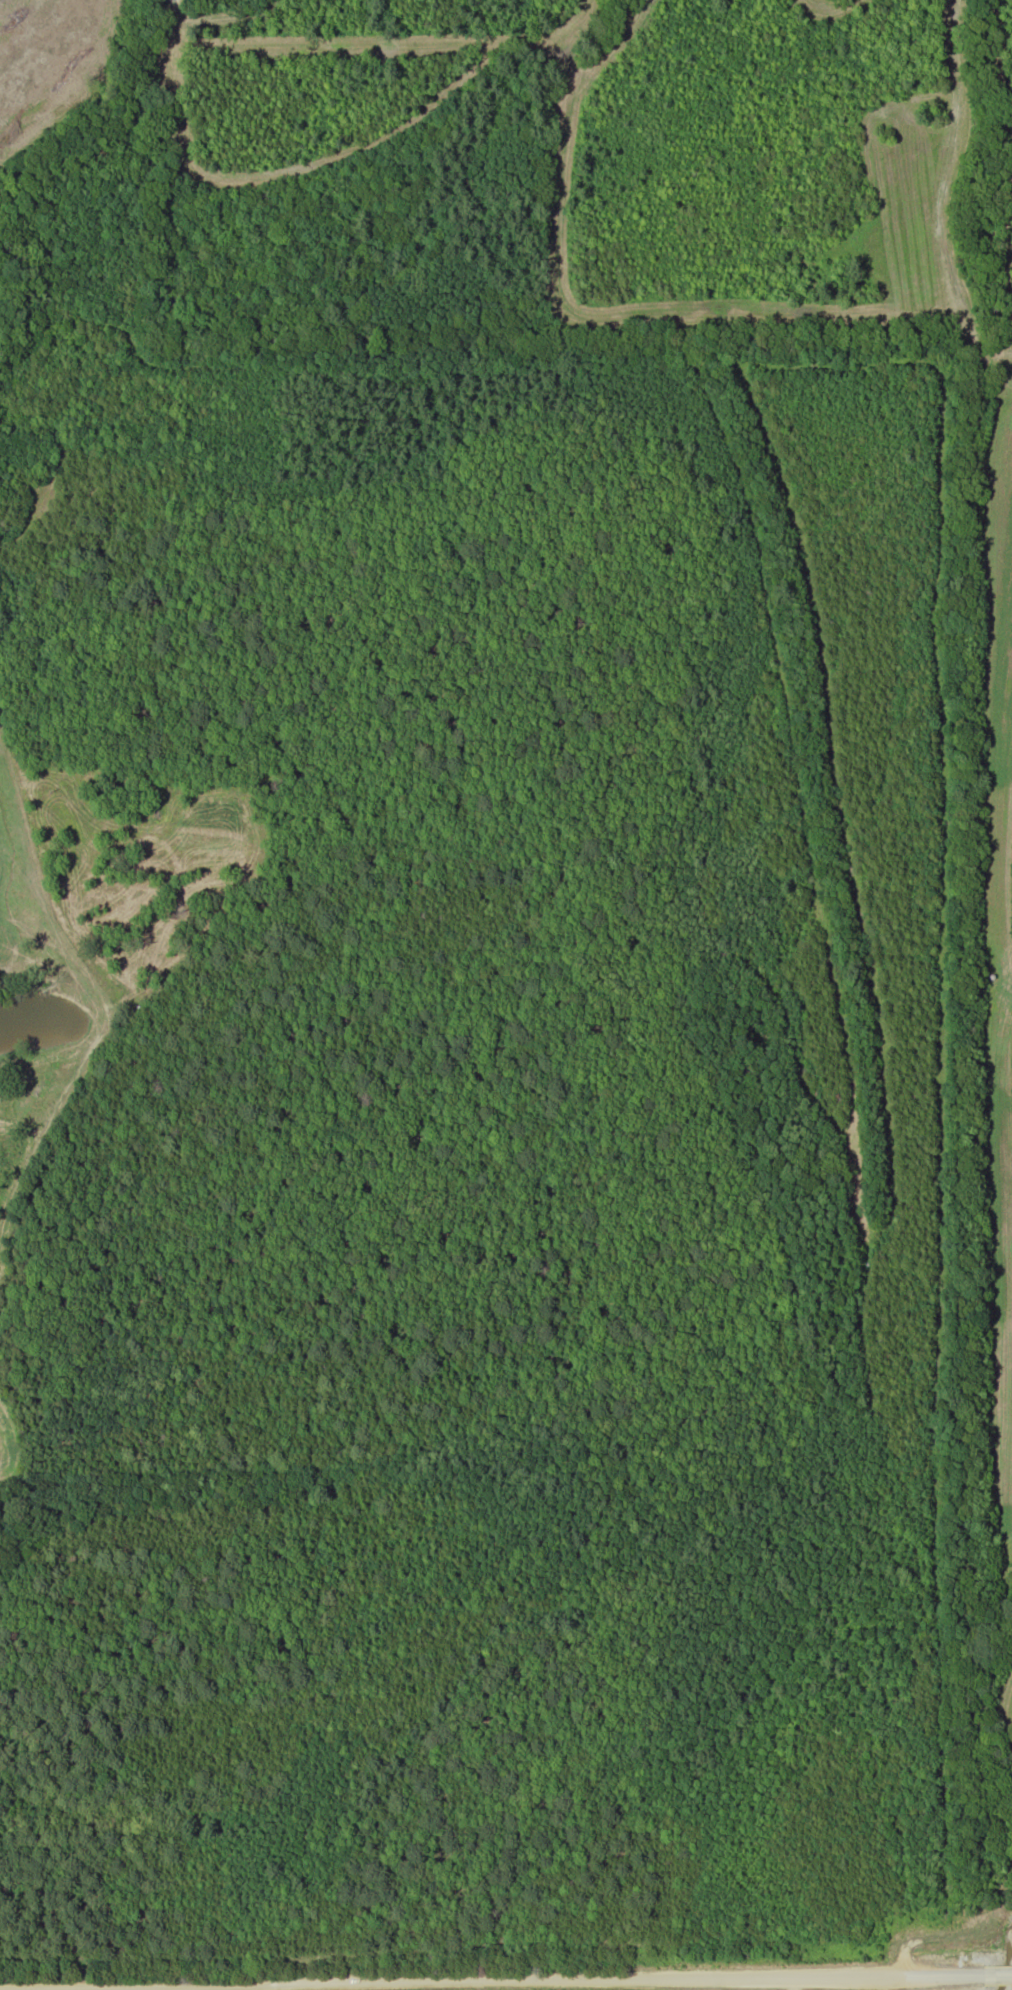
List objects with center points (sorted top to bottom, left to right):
road: (1002, 1977)
road: (562, 1986)

